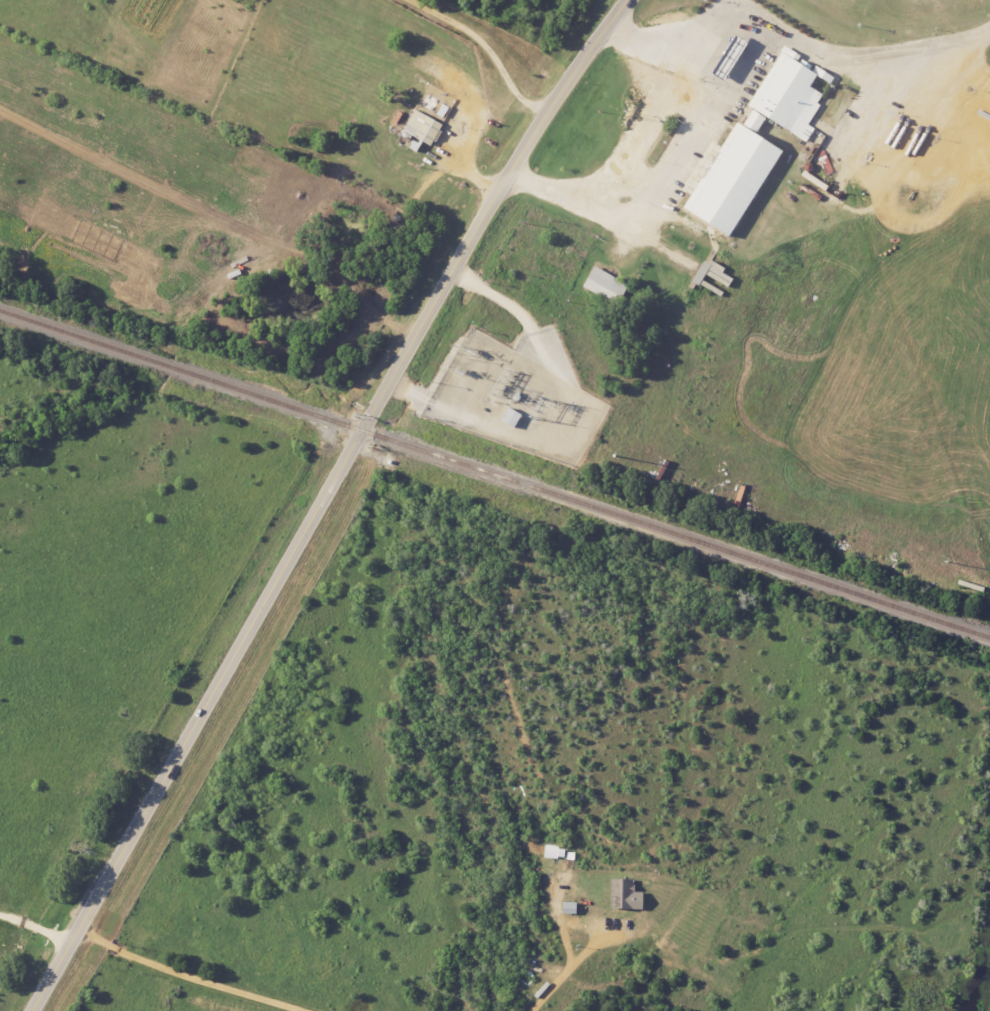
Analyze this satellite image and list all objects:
road: (642, 46)
road: (487, 49)
road: (684, 55)
building: (733, 56)
building: (424, 127)
building: (759, 143)
building: (608, 285)
power substation: (517, 396)
railway: (494, 474)
road: (322, 500)
building: (555, 852)
building: (627, 895)
building: (571, 908)
road: (35, 928)
road: (566, 971)
road: (187, 977)

